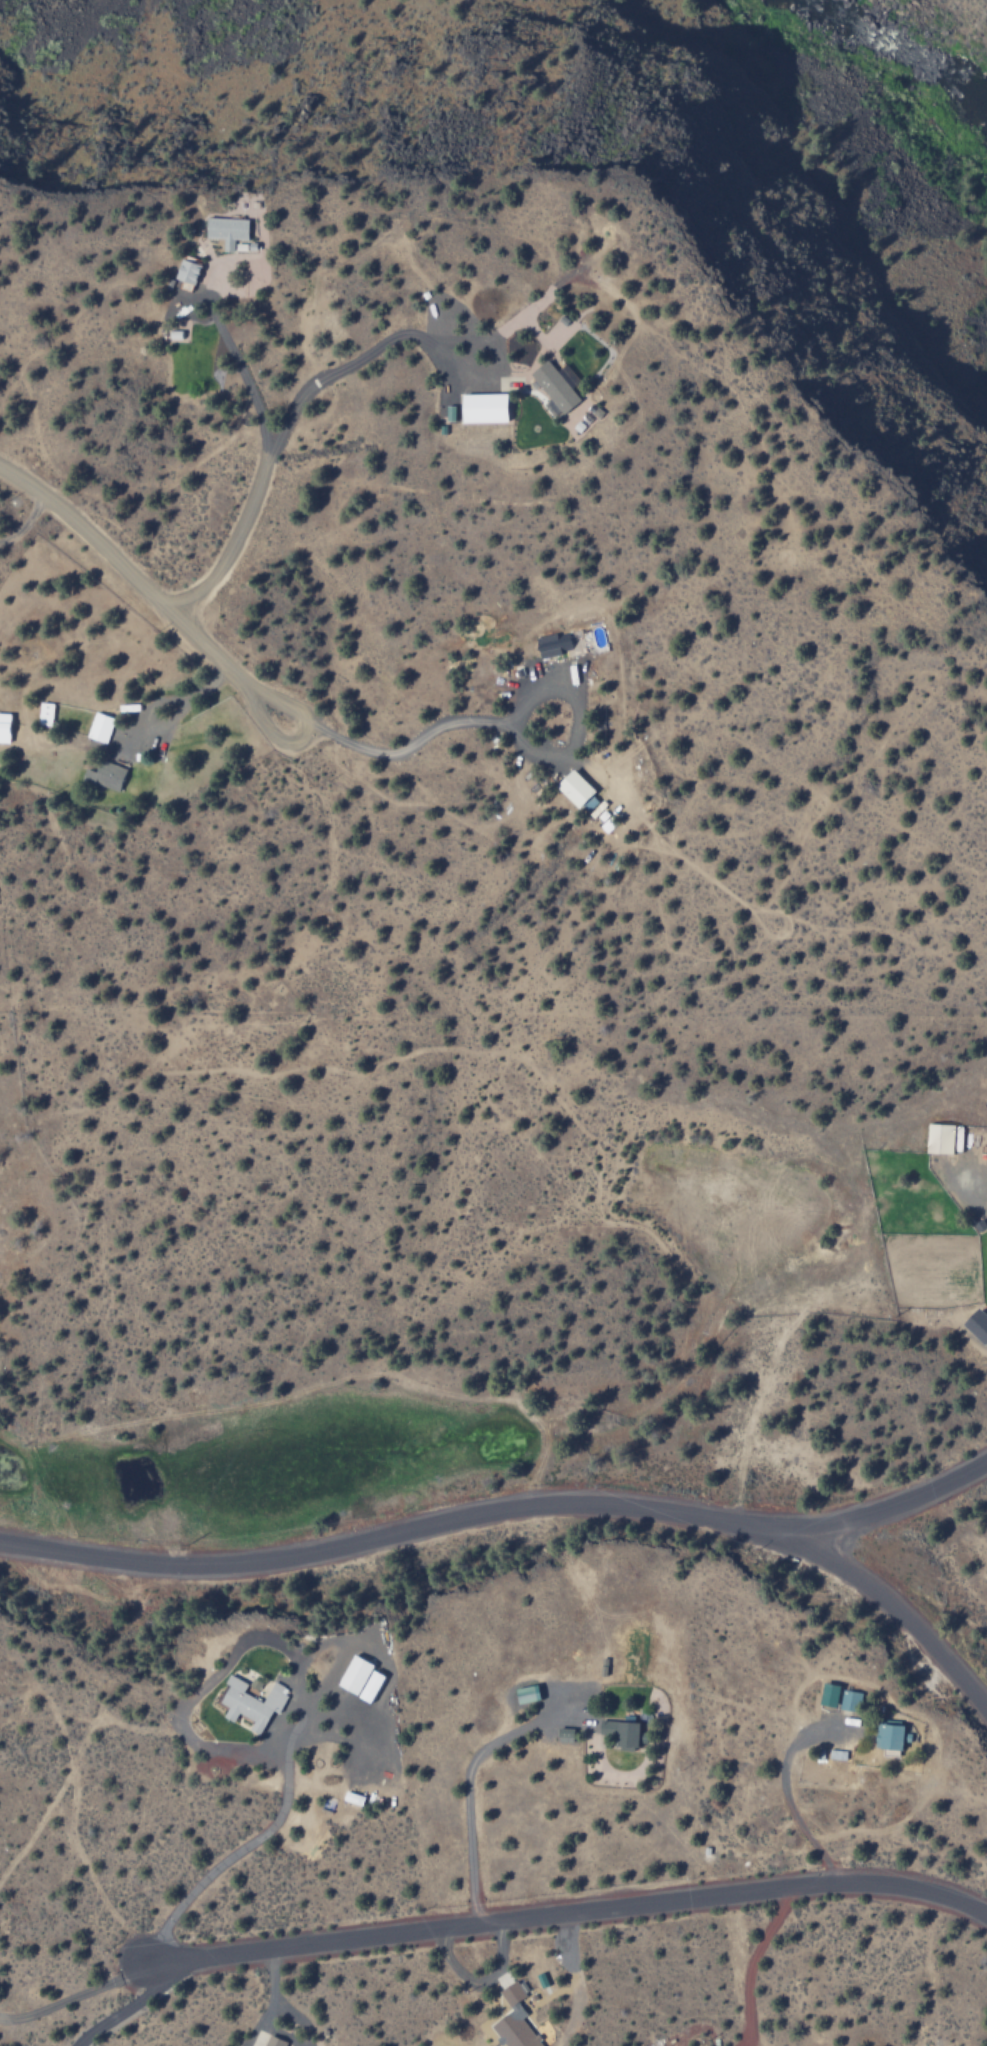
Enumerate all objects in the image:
river: (878, 66)
building: (224, 231)
building: (185, 272)
building: (552, 387)
building: (480, 408)
road: (290, 412)
road: (28, 522)
road: (132, 572)
building: (557, 645)
road: (182, 703)
building: (43, 714)
building: (3, 728)
building: (98, 729)
road: (305, 741)
road: (408, 746)
building: (102, 775)
building: (572, 789)
building: (938, 1138)
building: (975, 1326)
crop: (246, 1462)
road: (498, 1510)
road: (895, 1611)
building: (358, 1679)
building: (826, 1694)
building: (848, 1700)
building: (249, 1703)
building: (619, 1732)
building: (891, 1736)
road: (568, 1912)
building: (512, 2019)
building: (272, 2041)

